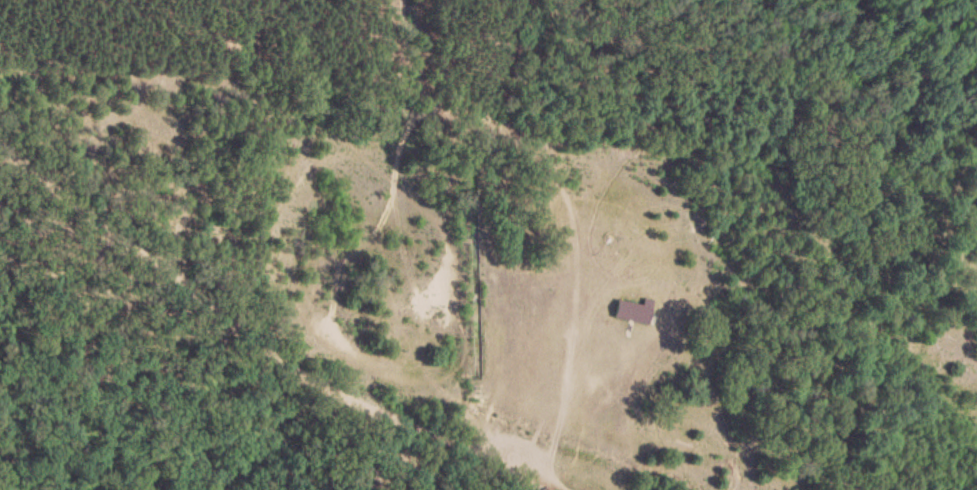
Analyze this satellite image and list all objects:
building: (632, 311)
road: (243, 326)
road: (563, 384)
road: (516, 474)
road: (553, 476)

